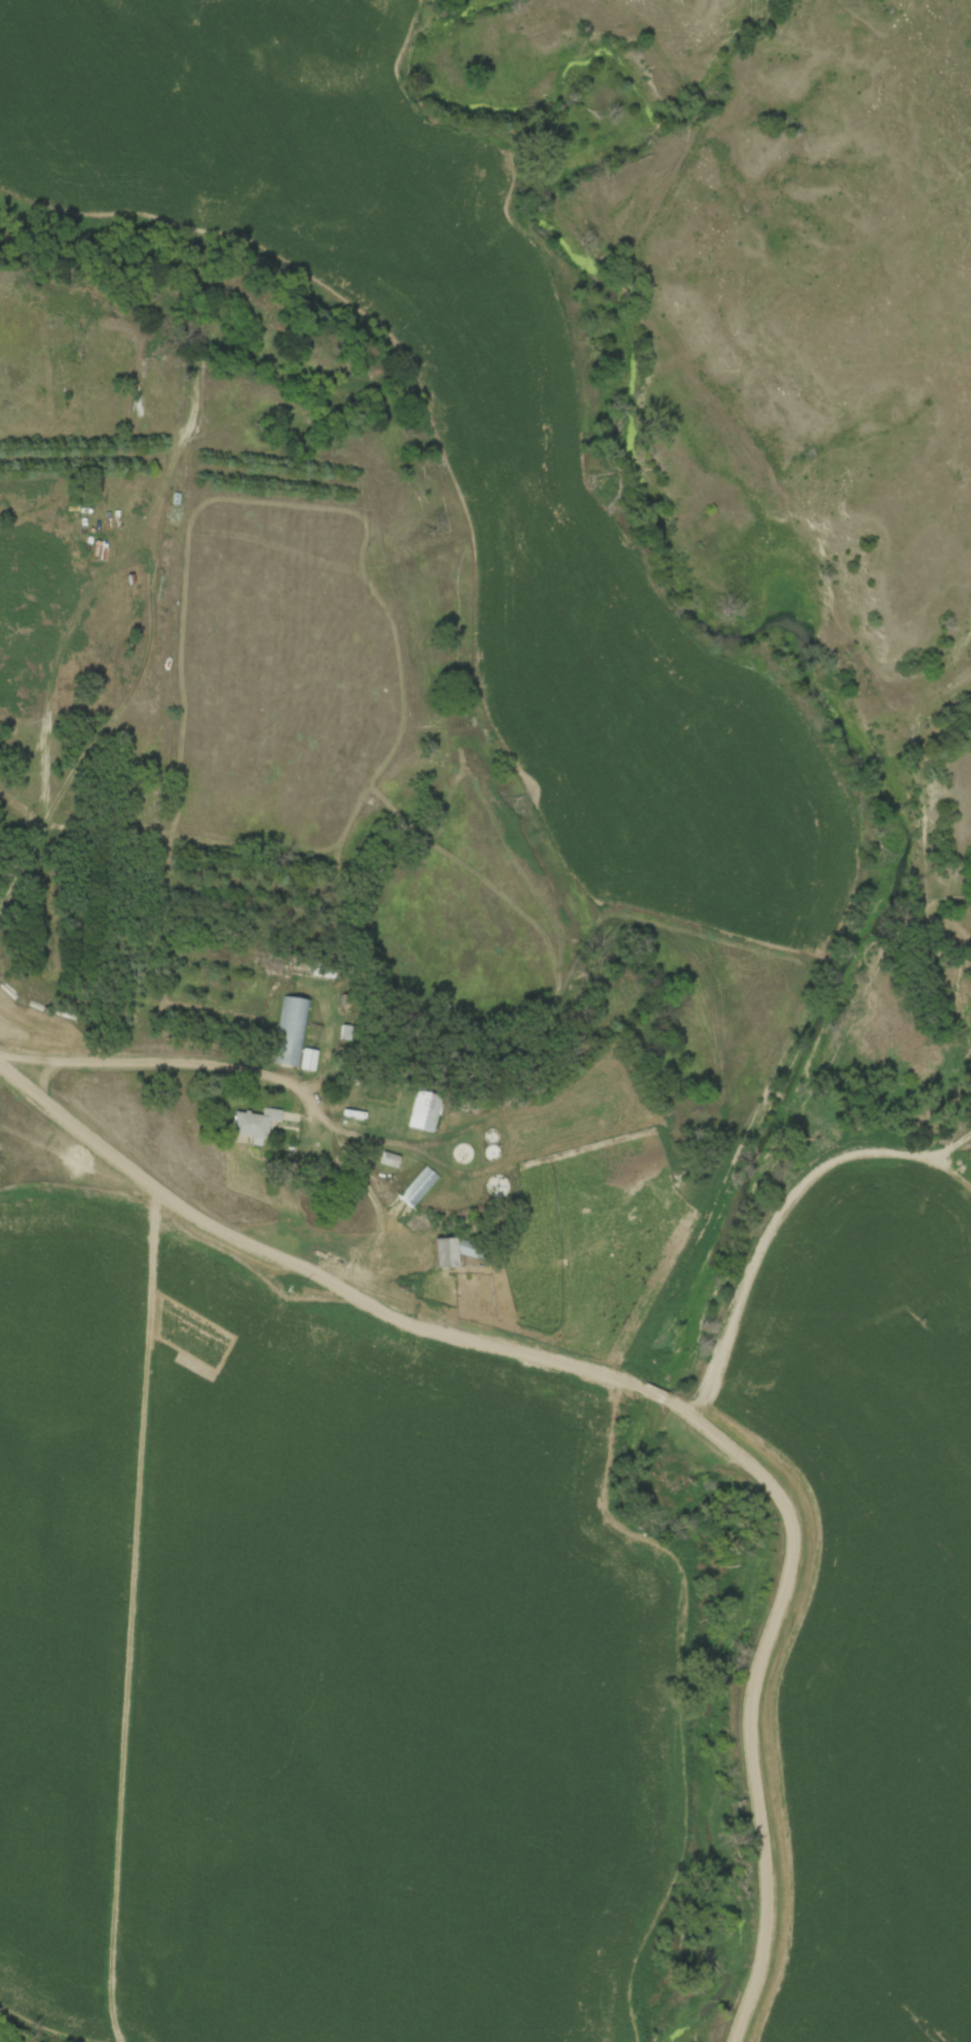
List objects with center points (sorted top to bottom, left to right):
building: (300, 1036)
building: (306, 1060)
road: (171, 1061)
building: (433, 1113)
building: (252, 1127)
building: (463, 1154)
building: (390, 1160)
building: (497, 1186)
building: (418, 1187)
building: (453, 1251)
road: (306, 1269)
road: (661, 1395)
crop: (314, 1668)
road: (750, 1693)
railway: (2, 2040)

